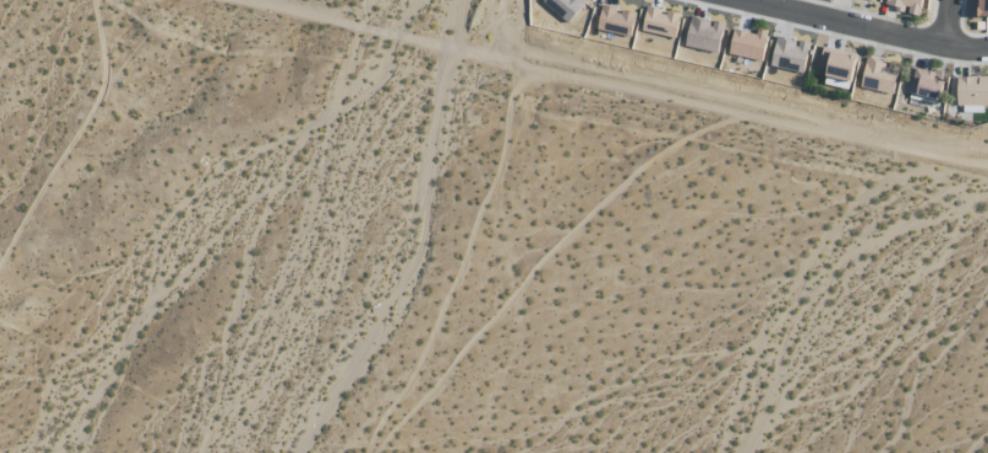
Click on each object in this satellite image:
building: (871, 0)
building: (905, 5)
building: (564, 7)
road: (778, 7)
building: (982, 8)
building: (614, 21)
building: (660, 22)
road: (944, 22)
building: (703, 35)
road: (896, 35)
building: (747, 44)
building: (789, 55)
building: (837, 64)
building: (877, 76)
road: (662, 77)
building: (925, 84)
building: (972, 91)

